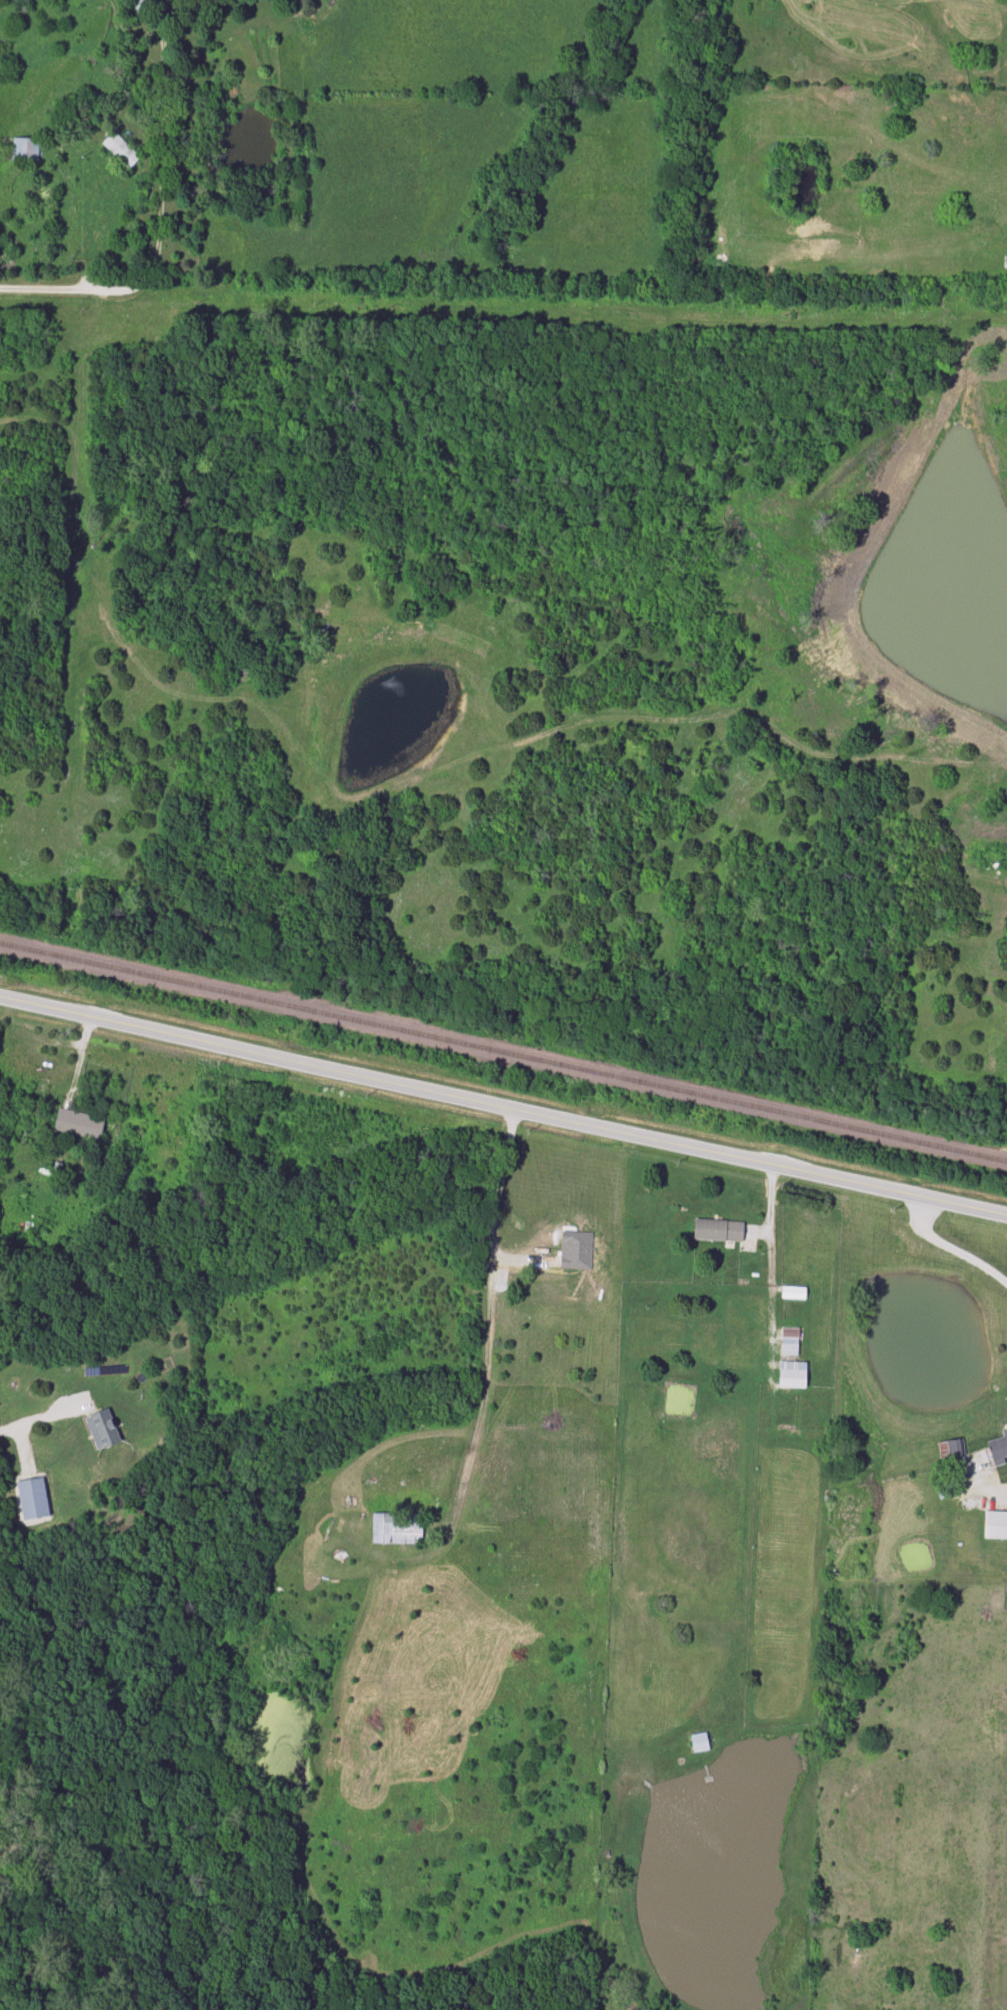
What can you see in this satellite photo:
building: (138, 7)
building: (19, 150)
building: (121, 151)
road: (159, 215)
railway: (503, 1052)
road: (502, 1112)
building: (78, 1124)
road: (493, 1213)
building: (718, 1230)
road: (950, 1250)
building: (577, 1253)
building: (793, 1293)
building: (790, 1341)
building: (792, 1374)
road: (31, 1421)
building: (102, 1428)
building: (998, 1448)
building: (944, 1491)
building: (32, 1499)
building: (995, 1525)
building: (396, 1529)
building: (699, 1743)

